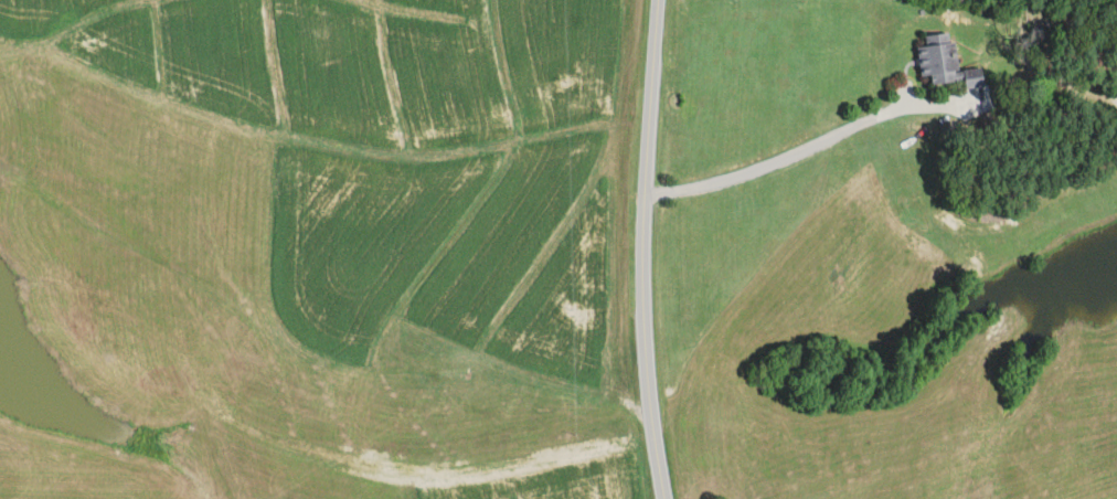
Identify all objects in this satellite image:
building: (947, 62)
road: (794, 150)
road: (653, 250)

